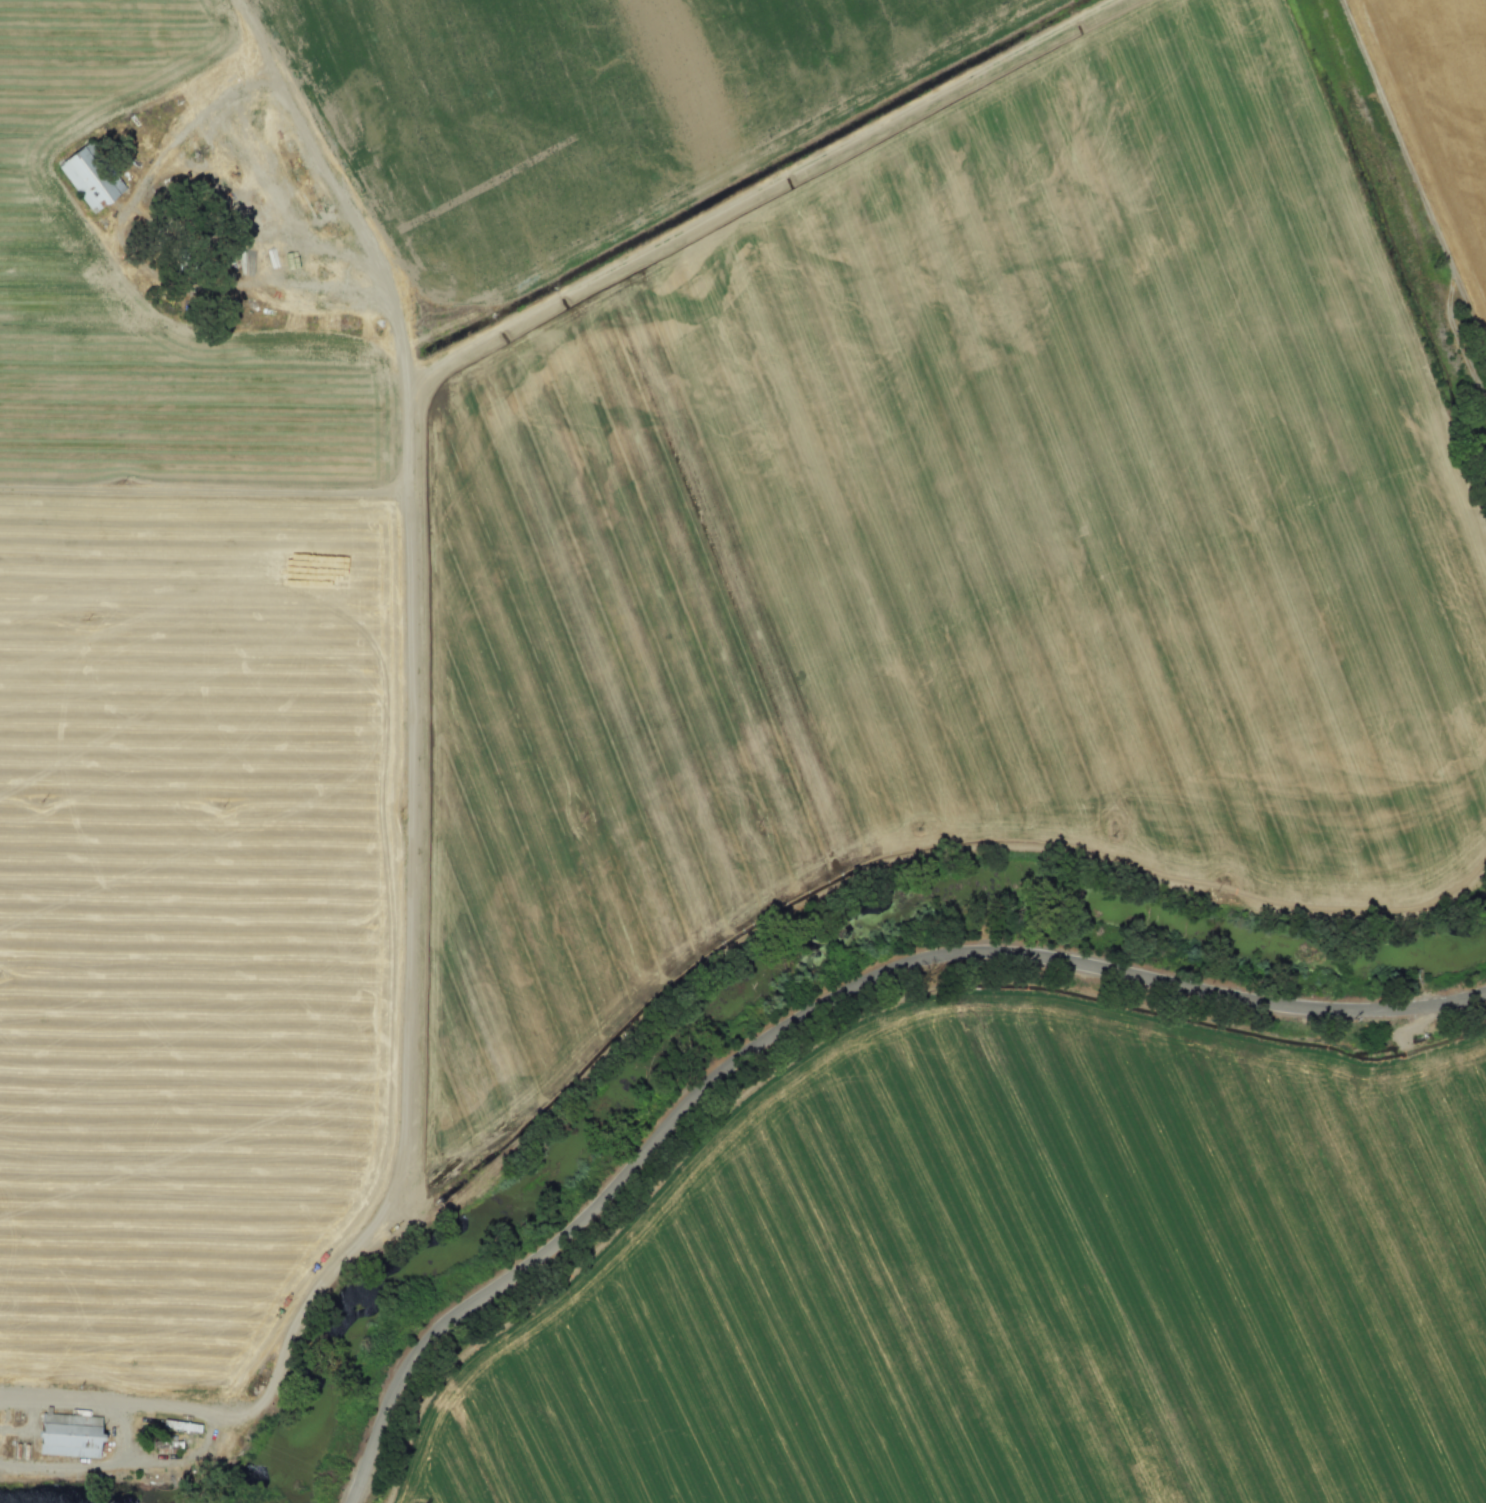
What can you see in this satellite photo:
crop: (573, 105)
crop: (1440, 109)
road: (1396, 134)
building: (91, 174)
road: (747, 194)
road: (385, 278)
road: (204, 490)
road: (809, 1005)
road: (404, 1094)
road: (120, 1431)
building: (70, 1434)
road: (124, 1462)

